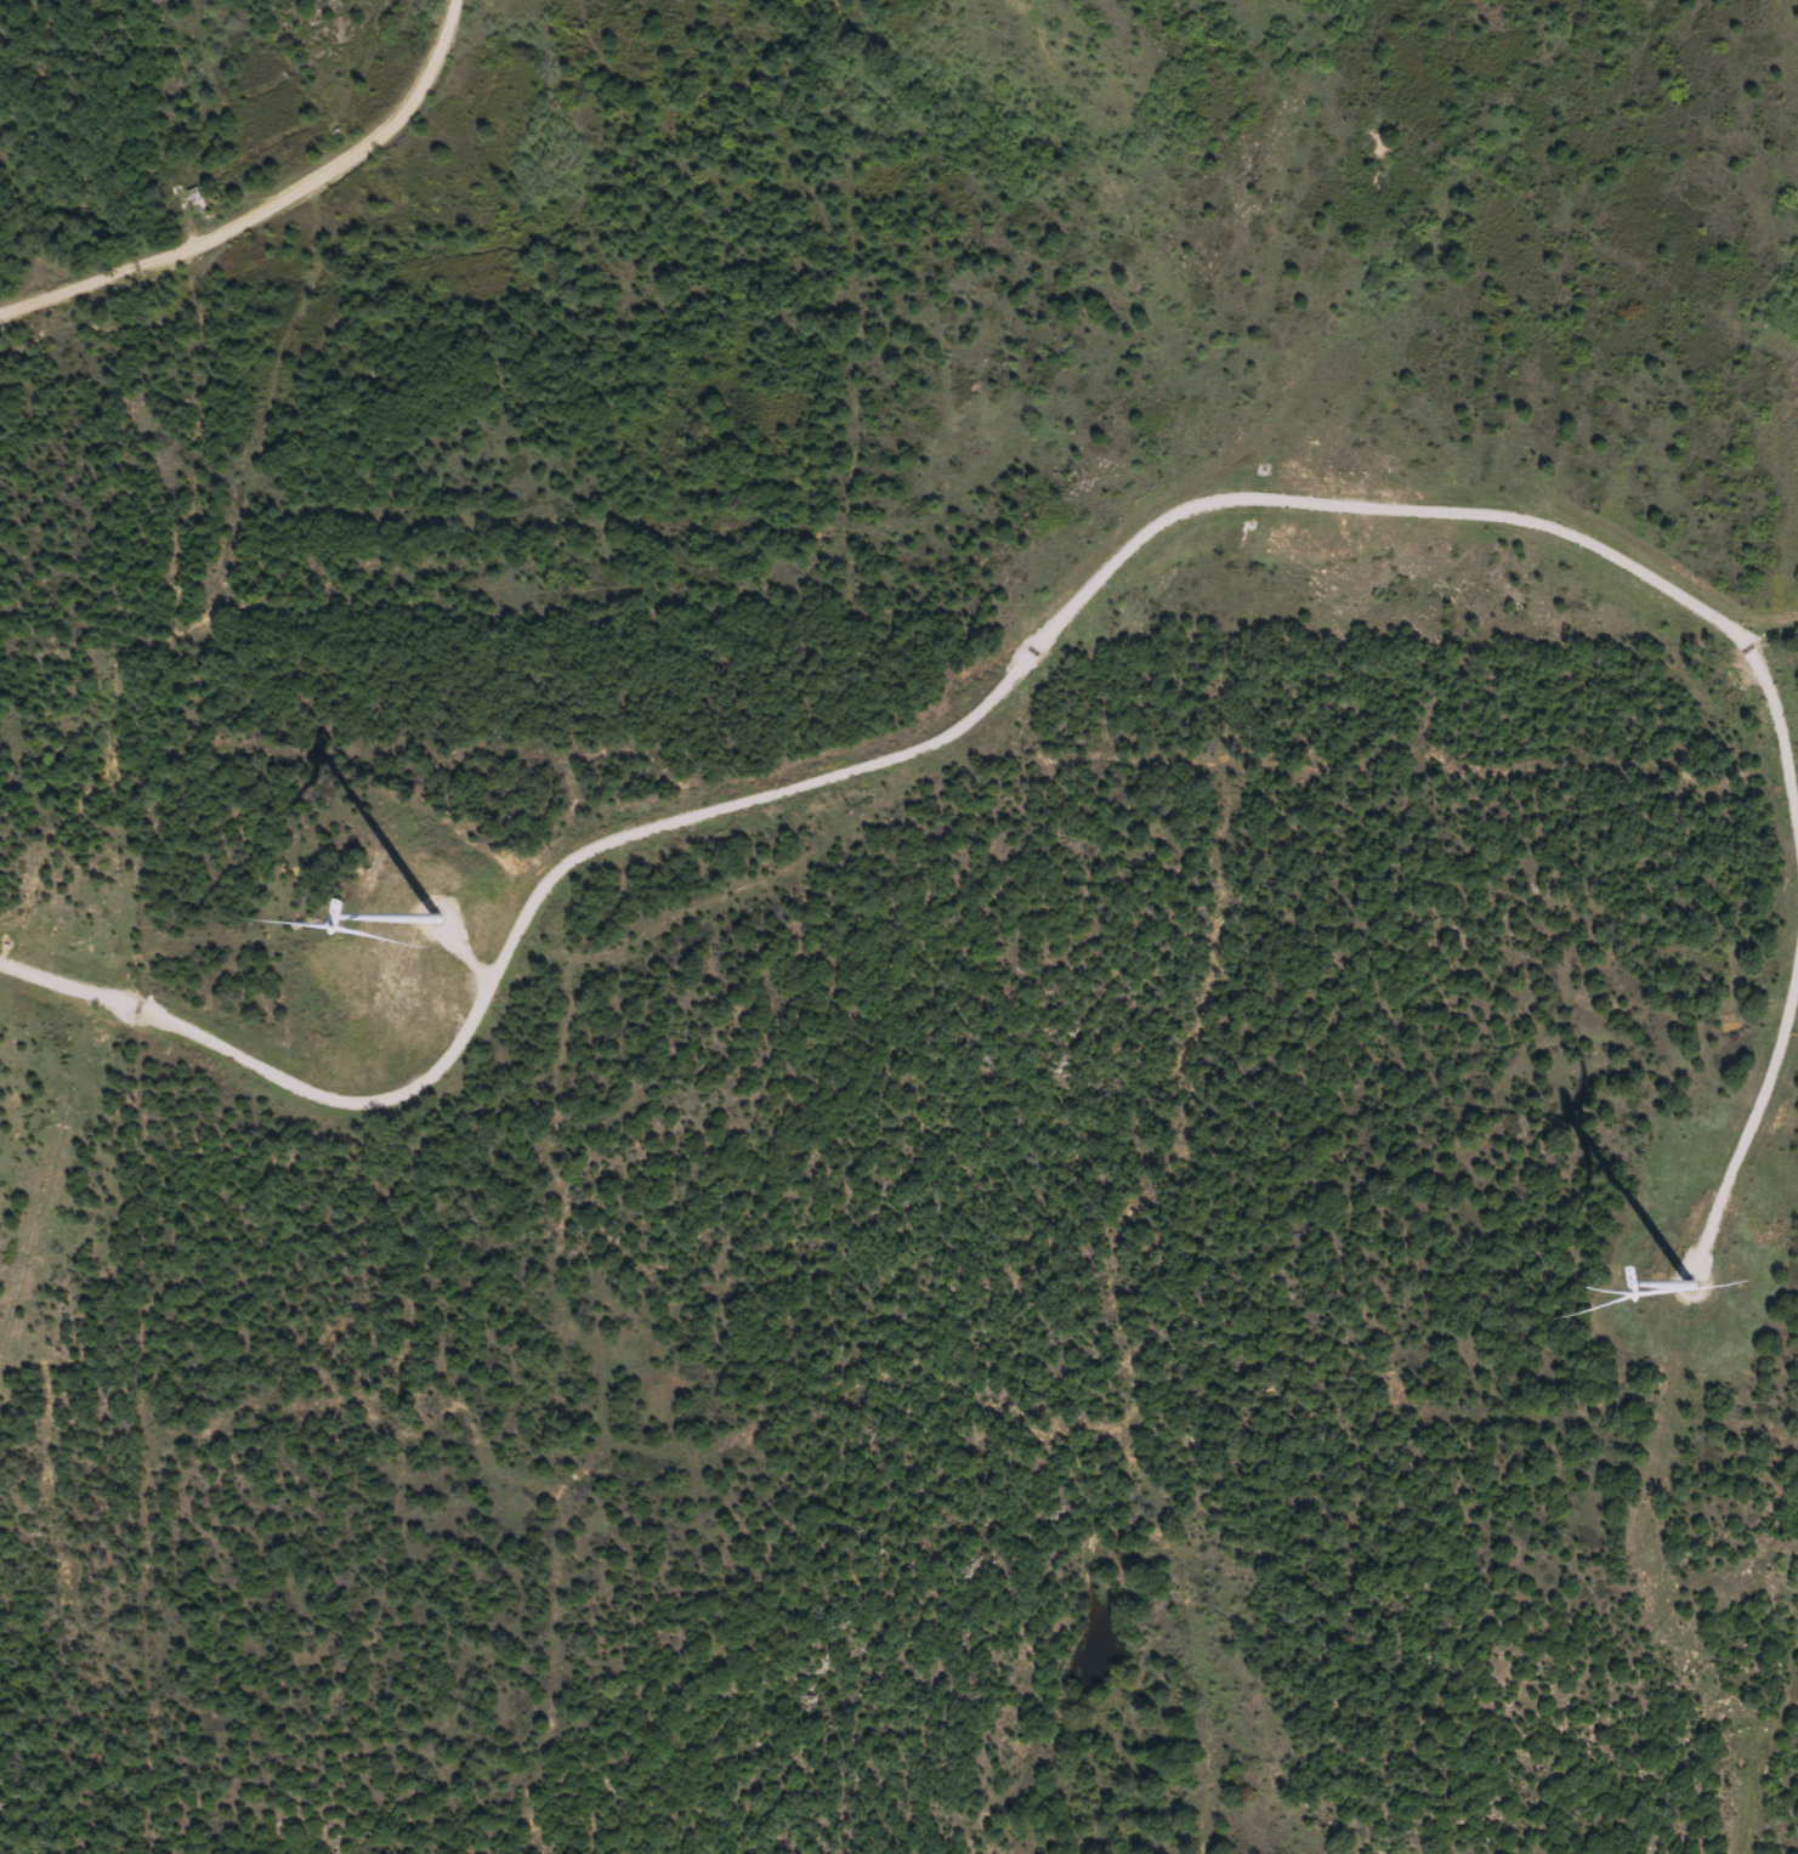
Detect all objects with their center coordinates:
road: (271, 203)
wind turbine: (432, 915)
wind turbine: (1685, 1277)

